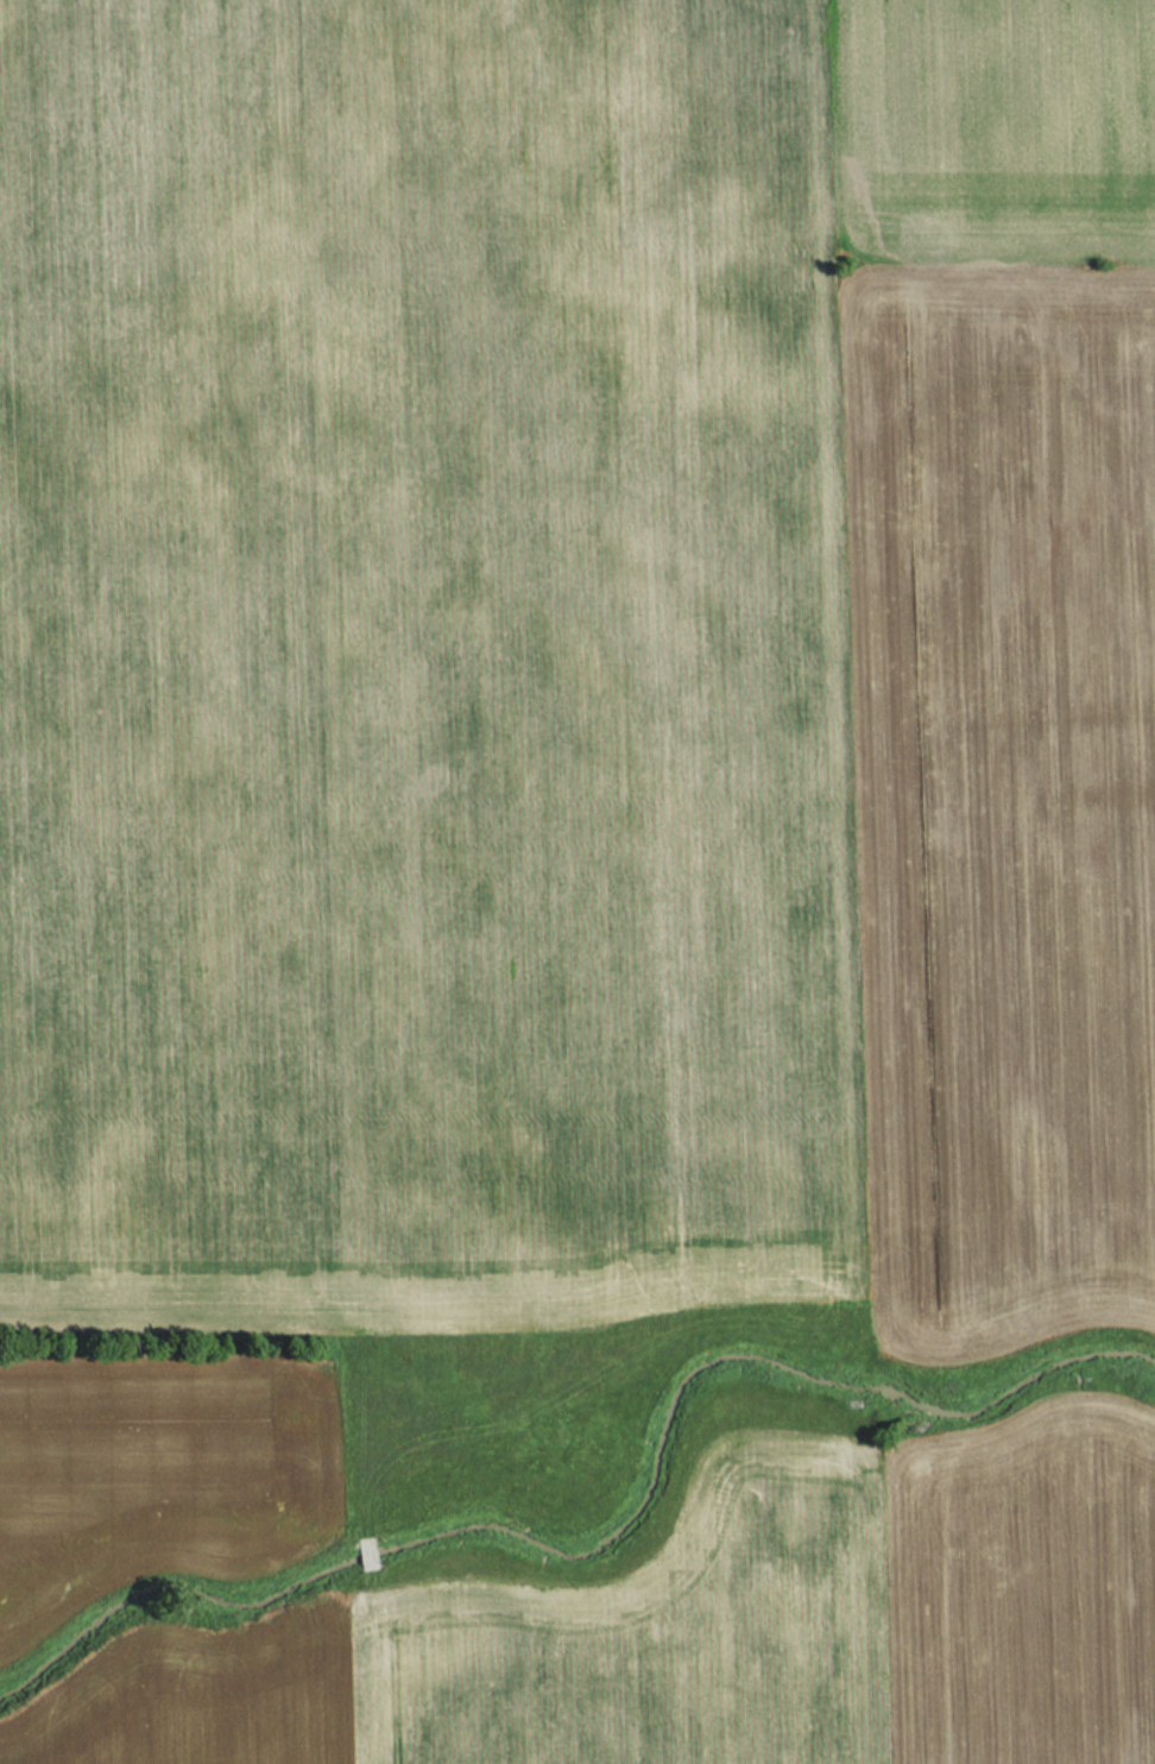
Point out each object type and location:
crop: (991, 122)
crop: (421, 668)
crop: (1001, 782)
crop: (157, 1478)
crop: (1020, 1588)
crop: (531, 1653)

